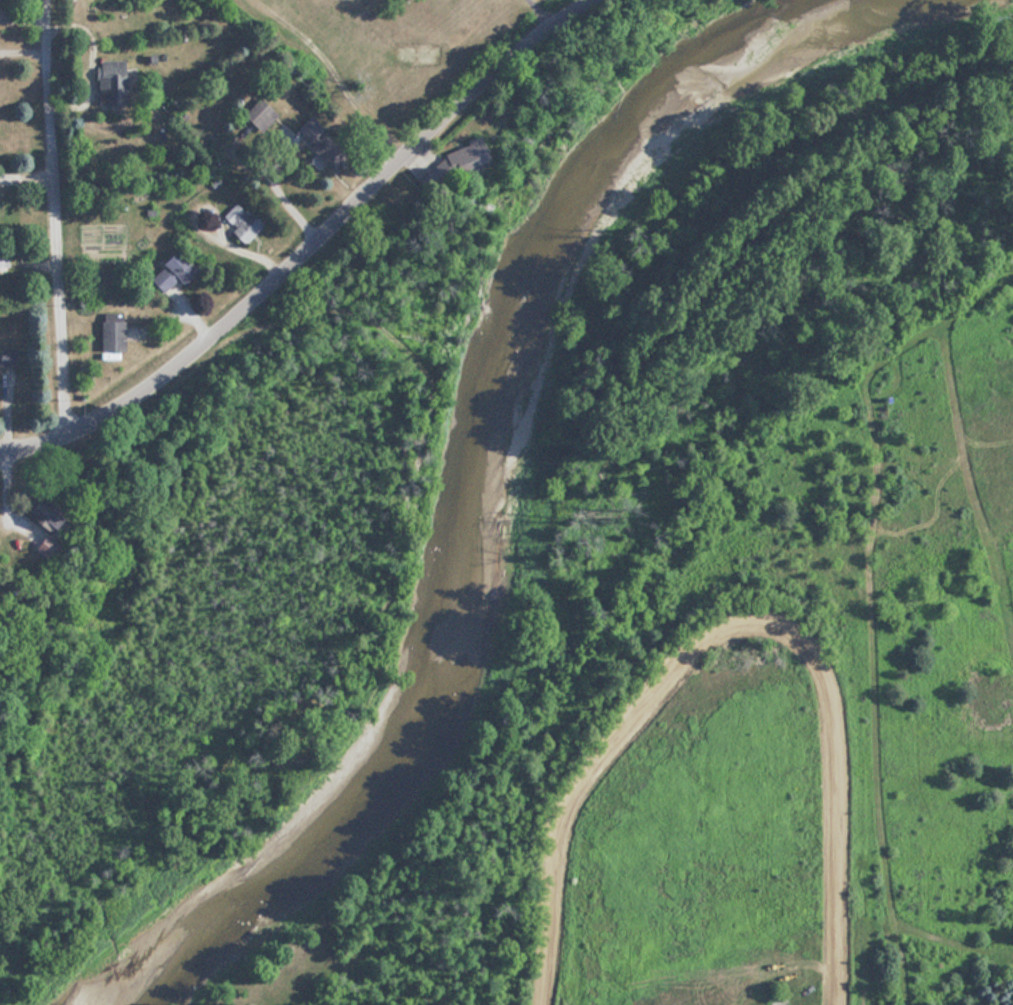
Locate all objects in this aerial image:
building: (108, 82)
building: (317, 141)
building: (459, 154)
road: (58, 217)
building: (238, 222)
road: (315, 247)
building: (166, 272)
building: (108, 332)
building: (7, 358)
river: (491, 471)
building: (32, 515)

